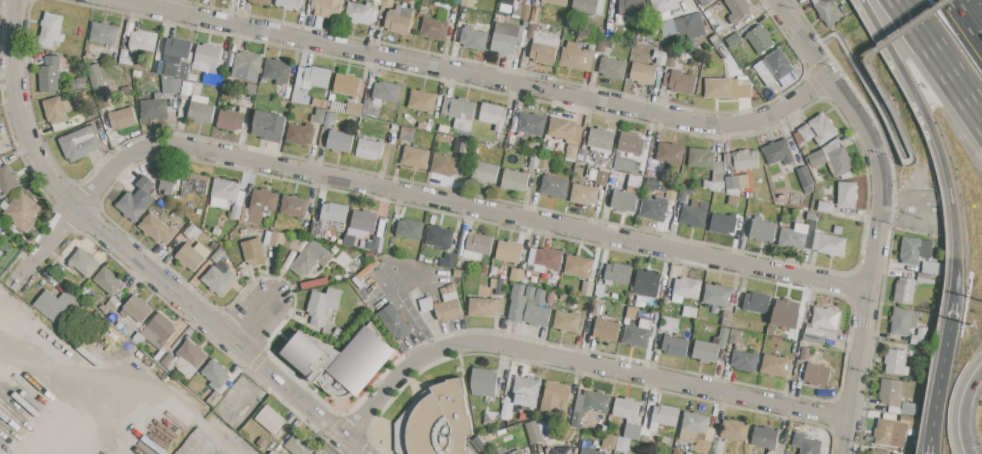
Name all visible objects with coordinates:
building: (524, 0)
building: (816, 1)
building: (262, 2)
building: (377, 2)
building: (468, 2)
building: (508, 2)
building: (557, 2)
building: (704, 2)
building: (388, 3)
building: (290, 4)
building: (314, 4)
building: (585, 5)
building: (664, 5)
building: (600, 7)
building: (631, 8)
building: (329, 9)
building: (518, 10)
building: (737, 10)
building: (359, 12)
building: (525, 12)
building: (714, 12)
building: (830, 12)
road: (973, 12)
building: (536, 14)
building: (309, 17)
building: (399, 20)
building: (51, 29)
building: (435, 29)
building: (507, 30)
building: (533, 30)
building: (103, 33)
building: (473, 38)
building: (760, 38)
building: (733, 40)
building: (143, 41)
building: (715, 41)
building: (504, 43)
building: (593, 43)
building: (604, 44)
building: (544, 49)
building: (724, 52)
building: (89, 54)
building: (115, 56)
building: (573, 56)
road: (941, 56)
building: (177, 57)
building: (660, 57)
building: (126, 58)
building: (207, 58)
building: (231, 60)
building: (672, 60)
building: (247, 62)
building: (589, 62)
building: (597, 62)
building: (613, 68)
building: (775, 68)
building: (277, 71)
building: (643, 73)
building: (50, 74)
building: (96, 77)
building: (317, 77)
road: (476, 78)
building: (258, 79)
building: (302, 79)
building: (264, 80)
building: (680, 82)
building: (79, 83)
building: (347, 84)
building: (171, 86)
building: (741, 87)
building: (187, 88)
building: (718, 88)
building: (386, 91)
building: (296, 95)
building: (423, 100)
building: (319, 102)
building: (446, 106)
building: (154, 107)
building: (372, 107)
building: (354, 109)
building: (201, 110)
building: (56, 112)
building: (462, 113)
building: (493, 115)
building: (318, 116)
building: (123, 118)
building: (232, 119)
building: (330, 119)
building: (532, 123)
building: (269, 126)
building: (823, 128)
building: (444, 129)
building: (806, 132)
building: (300, 134)
building: (407, 134)
building: (567, 135)
building: (601, 139)
building: (0, 141)
building: (339, 141)
building: (80, 143)
building: (631, 143)
building: (0, 144)
road: (937, 144)
building: (460, 146)
building: (584, 146)
building: (369, 149)
road: (909, 149)
building: (805, 151)
building: (670, 152)
building: (779, 152)
building: (415, 158)
building: (702, 158)
building: (817, 158)
building: (838, 158)
building: (534, 160)
building: (741, 160)
building: (544, 162)
building: (623, 164)
building: (445, 165)
building: (485, 171)
building: (602, 177)
building: (665, 177)
building: (718, 178)
building: (805, 179)
building: (8, 180)
building: (515, 180)
building: (168, 181)
building: (744, 182)
building: (732, 183)
building: (195, 184)
building: (652, 184)
building: (553, 186)
building: (663, 186)
building: (685, 192)
building: (672, 193)
building: (584, 194)
building: (847, 195)
building: (227, 196)
road: (415, 196)
building: (137, 199)
building: (624, 201)
building: (733, 201)
building: (259, 206)
building: (295, 206)
building: (825, 207)
building: (654, 208)
building: (22, 211)
road: (885, 212)
building: (694, 214)
building: (811, 217)
building: (330, 219)
building: (723, 223)
building: (157, 227)
building: (360, 227)
building: (409, 228)
building: (762, 229)
building: (838, 229)
building: (216, 231)
building: (192, 232)
building: (1, 233)
building: (440, 236)
building: (794, 236)
building: (275, 238)
building: (291, 241)
building: (373, 243)
building: (829, 244)
building: (477, 247)
building: (915, 250)
building: (253, 251)
building: (509, 251)
building: (1, 253)
building: (192, 255)
building: (218, 255)
building: (325, 257)
road: (134, 258)
building: (544, 259)
building: (83, 261)
building: (448, 261)
building: (305, 262)
building: (332, 266)
building: (578, 266)
building: (930, 267)
building: (617, 273)
building: (516, 274)
building: (924, 277)
building: (219, 279)
building: (108, 281)
building: (647, 283)
building: (58, 287)
building: (499, 287)
building: (587, 288)
building: (686, 289)
building: (410, 290)
building: (444, 290)
building: (904, 290)
building: (86, 291)
building: (600, 291)
building: (717, 295)
building: (550, 296)
building: (633, 300)
building: (757, 302)
building: (56, 304)
building: (323, 304)
building: (427, 304)
building: (108, 305)
building: (529, 305)
building: (448, 306)
building: (594, 306)
building: (485, 307)
building: (137, 308)
building: (690, 311)
building: (785, 313)
road: (405, 314)
building: (727, 318)
building: (826, 318)
building: (567, 320)
building: (902, 321)
building: (394, 322)
road: (256, 324)
building: (669, 324)
power tower: (972, 325)
building: (123, 326)
building: (132, 329)
building: (159, 330)
building: (606, 330)
building: (771, 330)
road: (44, 331)
building: (822, 332)
building: (724, 333)
building: (638, 334)
building: (919, 336)
building: (814, 338)
building: (738, 339)
building: (836, 343)
building: (676, 346)
building: (708, 350)
building: (302, 352)
building: (192, 353)
building: (805, 354)
building: (168, 360)
building: (361, 360)
building: (745, 361)
building: (897, 362)
road: (584, 365)
building: (775, 365)
building: (315, 372)
building: (216, 374)
building: (817, 375)
road: (940, 380)
building: (483, 382)
road: (71, 389)
building: (525, 392)
building: (890, 393)
road: (250, 395)
road: (170, 397)
building: (555, 399)
road: (959, 404)
building: (508, 405)
building: (589, 406)
building: (906, 409)
building: (664, 416)
building: (628, 417)
building: (270, 419)
building: (440, 421)
building: (912, 423)
road: (110, 429)
building: (735, 429)
building: (539, 431)
building: (696, 431)
building: (891, 433)
road: (216, 435)
building: (765, 437)
parking lot: (215, 440)
building: (263, 442)
building: (609, 442)
building: (671, 442)
building: (298, 444)
building: (806, 444)
building: (623, 445)
building: (717, 446)
building: (908, 446)
building: (777, 449)
road: (352, 450)
building: (559, 451)
building: (591, 451)
building: (879, 451)
building: (516, 452)
building: (273, 453)
building: (689, 453)

